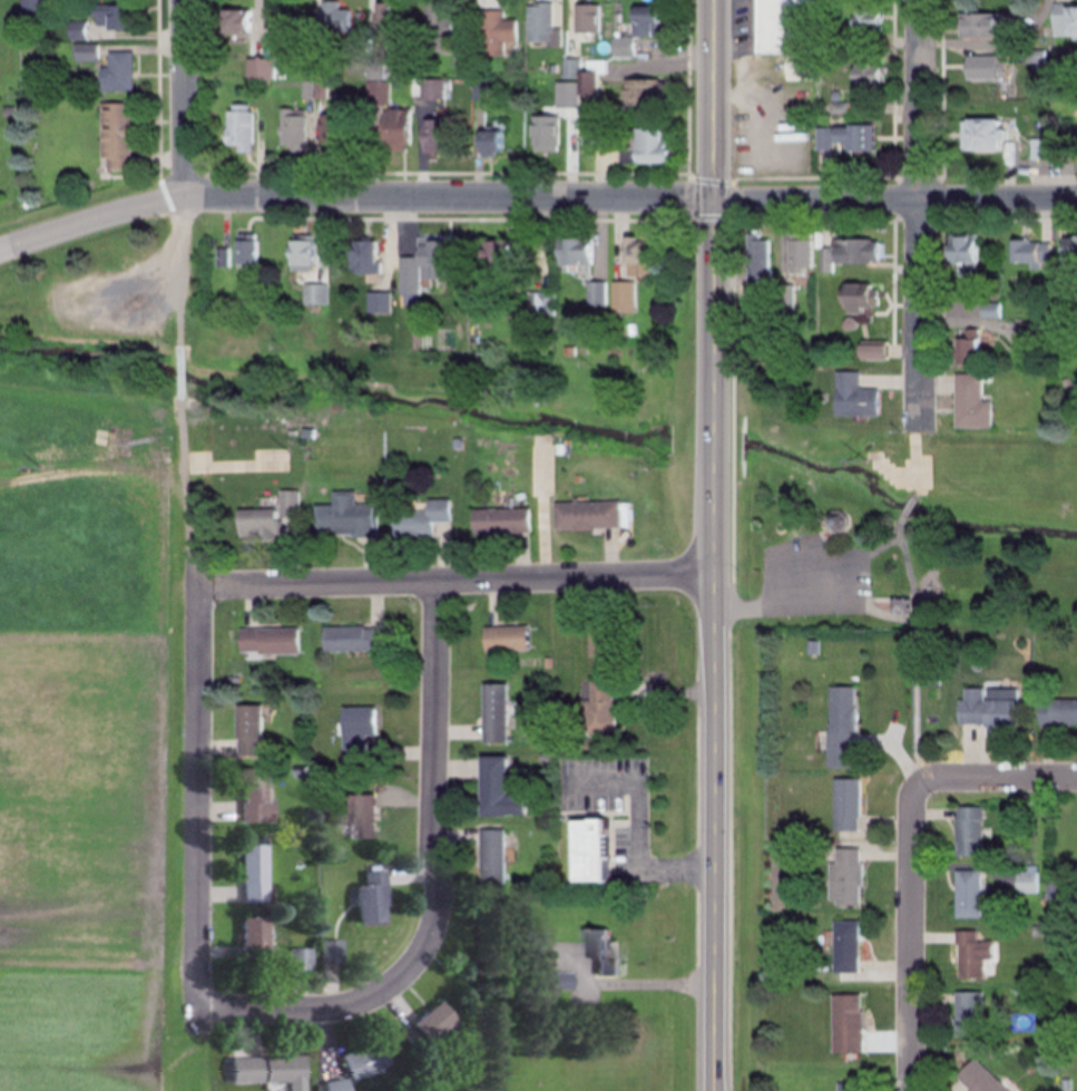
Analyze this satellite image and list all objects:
building: (30, 10)
building: (384, 14)
building: (109, 17)
building: (586, 18)
building: (867, 19)
building: (233, 21)
building: (1064, 22)
building: (981, 25)
building: (438, 26)
building: (541, 27)
building: (635, 29)
building: (495, 32)
building: (785, 35)
building: (84, 52)
building: (982, 67)
building: (260, 69)
building: (861, 72)
building: (115, 74)
building: (586, 82)
building: (431, 89)
building: (317, 90)
building: (376, 94)
building: (639, 95)
road: (180, 100)
building: (236, 128)
building: (391, 130)
building: (291, 131)
building: (326, 133)
building: (542, 134)
building: (432, 135)
building: (114, 136)
building: (981, 136)
building: (843, 137)
building: (489, 140)
building: (644, 146)
building: (1038, 150)
road: (353, 202)
road: (894, 202)
road: (918, 215)
building: (1068, 246)
building: (962, 249)
building: (237, 252)
building: (298, 252)
building: (575, 252)
building: (842, 252)
building: (1030, 252)
building: (799, 255)
building: (360, 256)
building: (489, 257)
building: (635, 257)
building: (757, 259)
building: (420, 266)
road: (713, 286)
building: (597, 294)
building: (856, 296)
building: (623, 298)
building: (540, 304)
building: (968, 349)
building: (875, 351)
building: (852, 397)
building: (970, 403)
road: (917, 464)
road: (909, 507)
building: (587, 516)
building: (343, 517)
building: (420, 520)
building: (500, 522)
building: (256, 525)
road: (456, 581)
building: (506, 637)
building: (349, 639)
building: (267, 641)
road: (919, 646)
building: (985, 709)
building: (600, 710)
building: (497, 712)
building: (1058, 712)
building: (841, 727)
building: (358, 730)
building: (248, 731)
crop: (92, 734)
road: (998, 778)
building: (499, 789)
road: (197, 797)
building: (252, 798)
building: (848, 806)
building: (363, 817)
road: (714, 831)
building: (970, 831)
road: (635, 835)
building: (591, 851)
building: (496, 857)
building: (251, 871)
building: (846, 877)
building: (1032, 880)
road: (437, 889)
building: (970, 894)
building: (364, 898)
road: (913, 936)
building: (249, 937)
building: (848, 947)
building: (329, 952)
building: (597, 954)
building: (975, 954)
building: (297, 960)
building: (552, 981)
building: (971, 1010)
building: (423, 1024)
building: (848, 1024)
building: (356, 1065)
building: (262, 1070)
building: (979, 1079)

